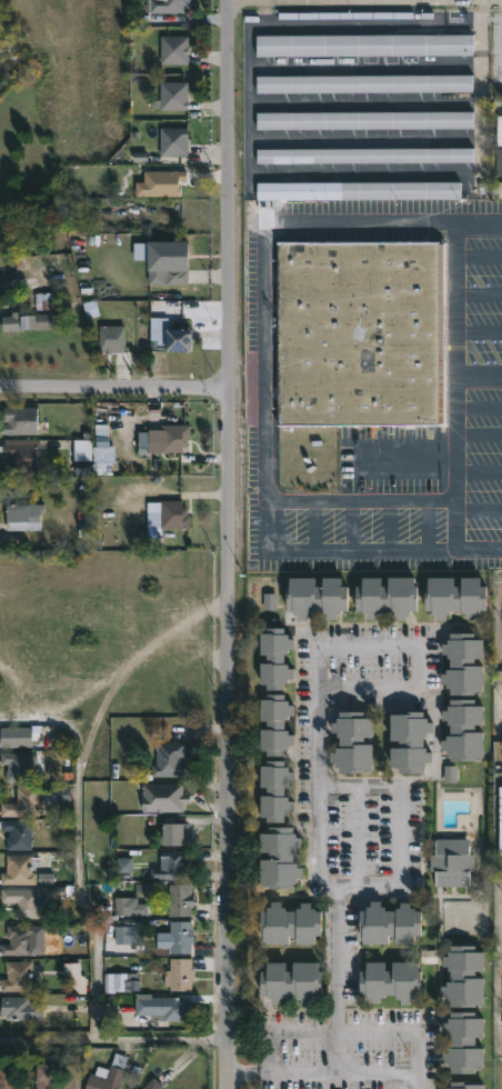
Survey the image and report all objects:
building: (168, 4)
road: (481, 10)
building: (174, 49)
building: (370, 50)
building: (370, 88)
building: (173, 94)
road: (364, 102)
building: (372, 126)
building: (173, 140)
building: (496, 149)
building: (373, 161)
road: (250, 170)
building: (364, 196)
building: (165, 257)
road: (454, 298)
building: (33, 314)
building: (362, 334)
building: (111, 338)
building: (179, 339)
road: (116, 391)
building: (20, 420)
road: (265, 422)
building: (174, 437)
building: (71, 447)
building: (21, 453)
building: (174, 514)
building: (24, 517)
road: (454, 539)
road: (230, 543)
road: (338, 550)
building: (317, 593)
building: (388, 593)
building: (455, 593)
road: (499, 620)
building: (275, 659)
building: (464, 665)
building: (277, 725)
building: (464, 731)
building: (16, 737)
building: (410, 742)
building: (353, 743)
building: (169, 760)
building: (18, 765)
road: (315, 779)
building: (275, 792)
building: (163, 797)
building: (22, 802)
road: (395, 826)
building: (18, 833)
building: (172, 836)
road: (77, 847)
building: (280, 857)
building: (452, 861)
building: (172, 867)
building: (19, 871)
building: (180, 900)
building: (22, 901)
building: (291, 922)
building: (391, 922)
building: (180, 936)
building: (18, 939)
building: (179, 973)
building: (19, 975)
building: (465, 975)
building: (392, 979)
building: (292, 980)
building: (164, 1006)
building: (21, 1008)
road: (402, 1032)
road: (283, 1033)
road: (114, 1039)
building: (464, 1040)
road: (244, 1073)
road: (375, 1073)
building: (108, 1075)
building: (9, 1078)
building: (51, 1078)
building: (152, 1083)
building: (466, 1085)

